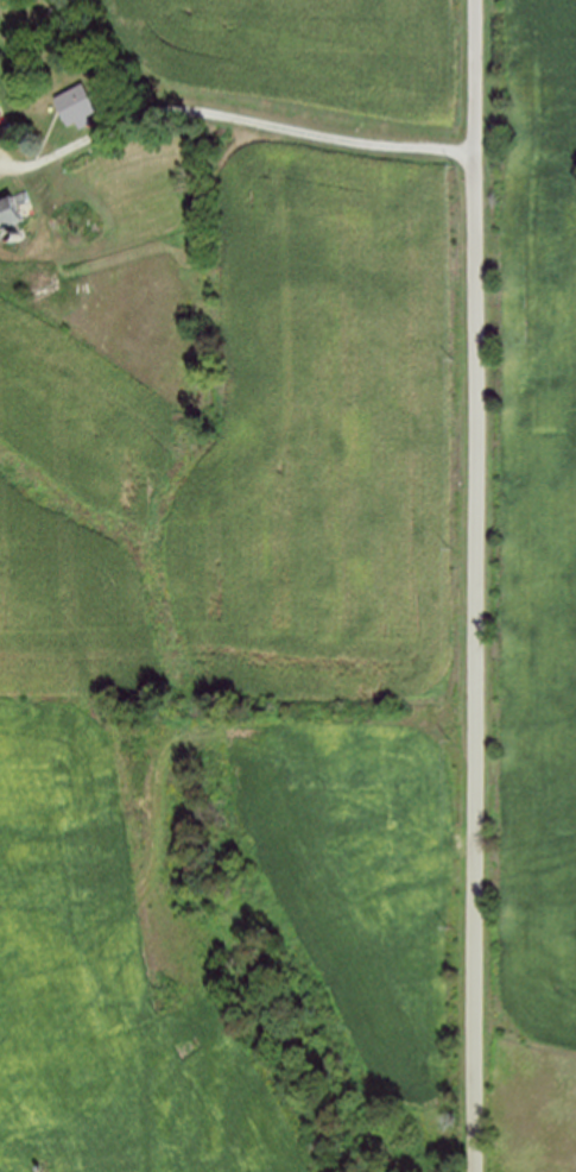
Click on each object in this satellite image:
building: (76, 105)
road: (232, 115)
building: (11, 212)
building: (36, 278)
road: (479, 586)

